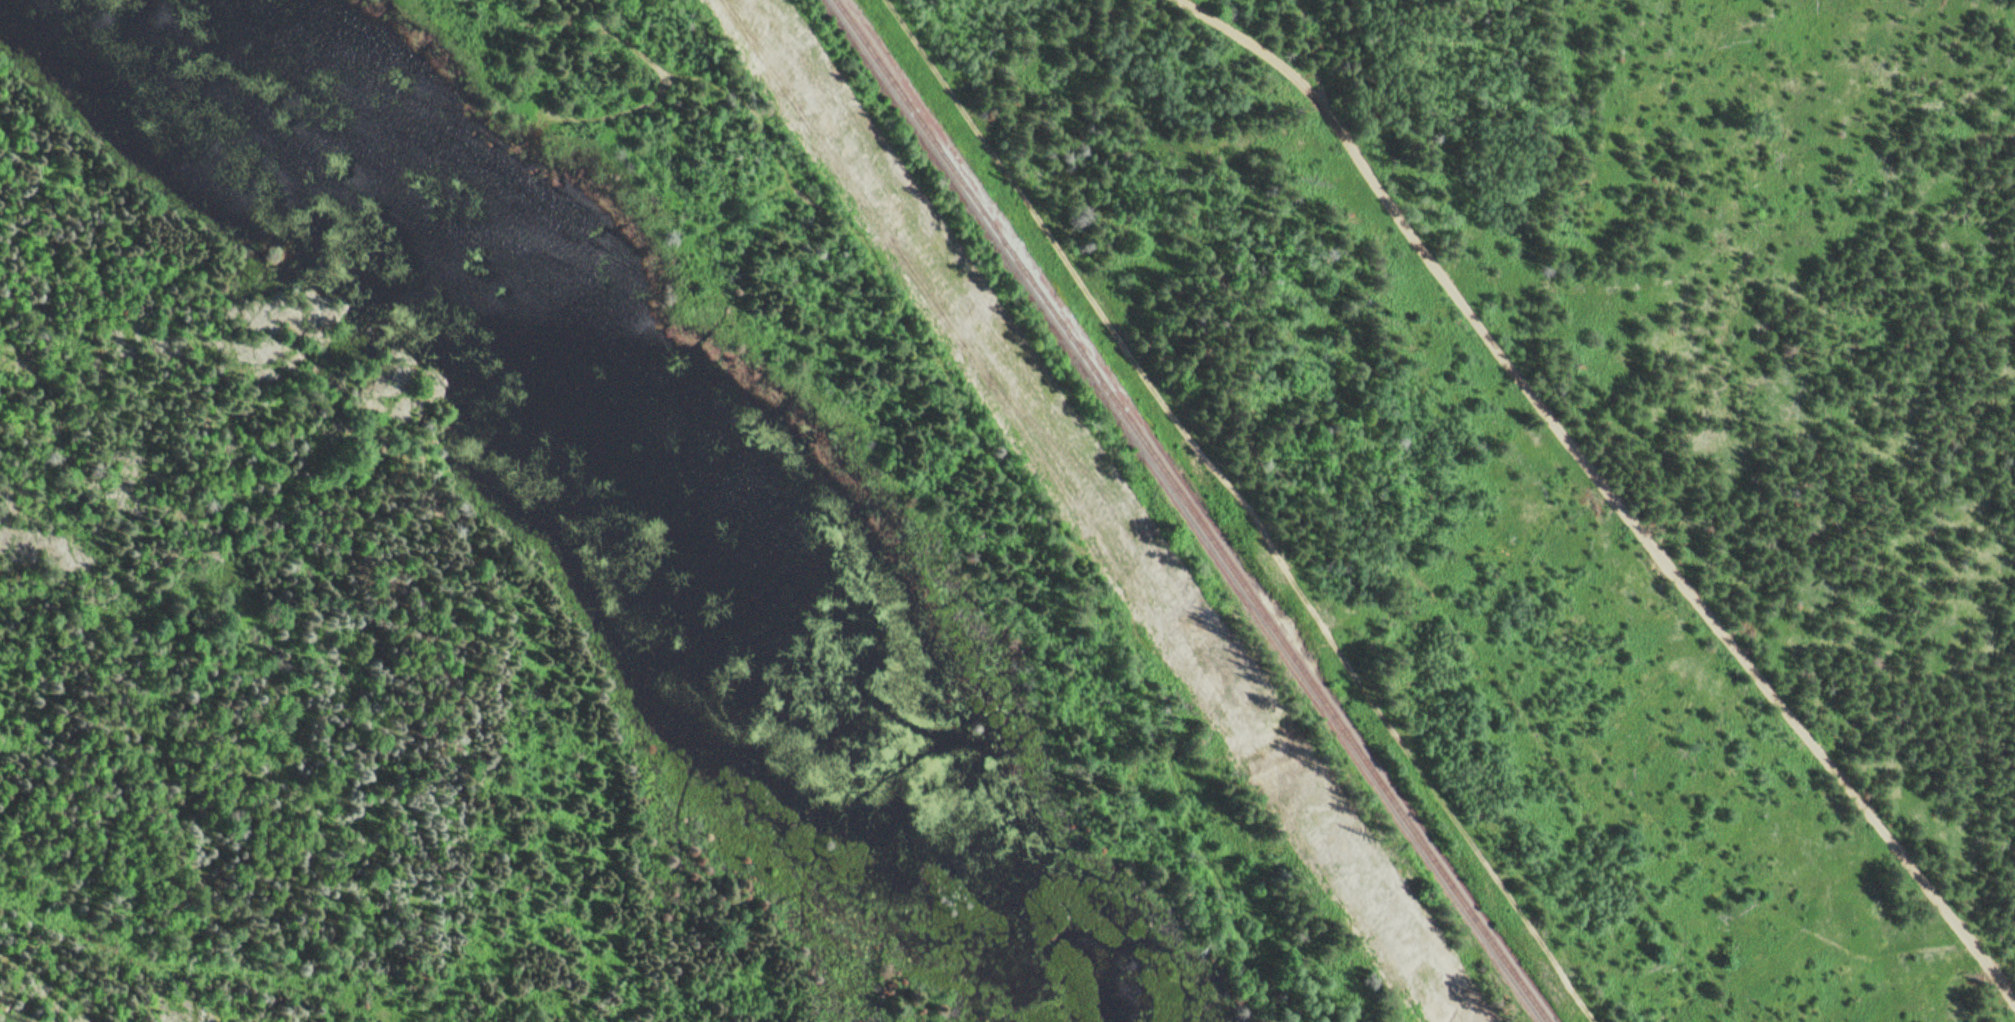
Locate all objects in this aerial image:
road: (1259, 47)
road: (1001, 454)
road: (1378, 500)
road: (1253, 506)
railway: (1196, 512)
road: (1631, 518)
road: (113, 983)
road: (361, 995)

